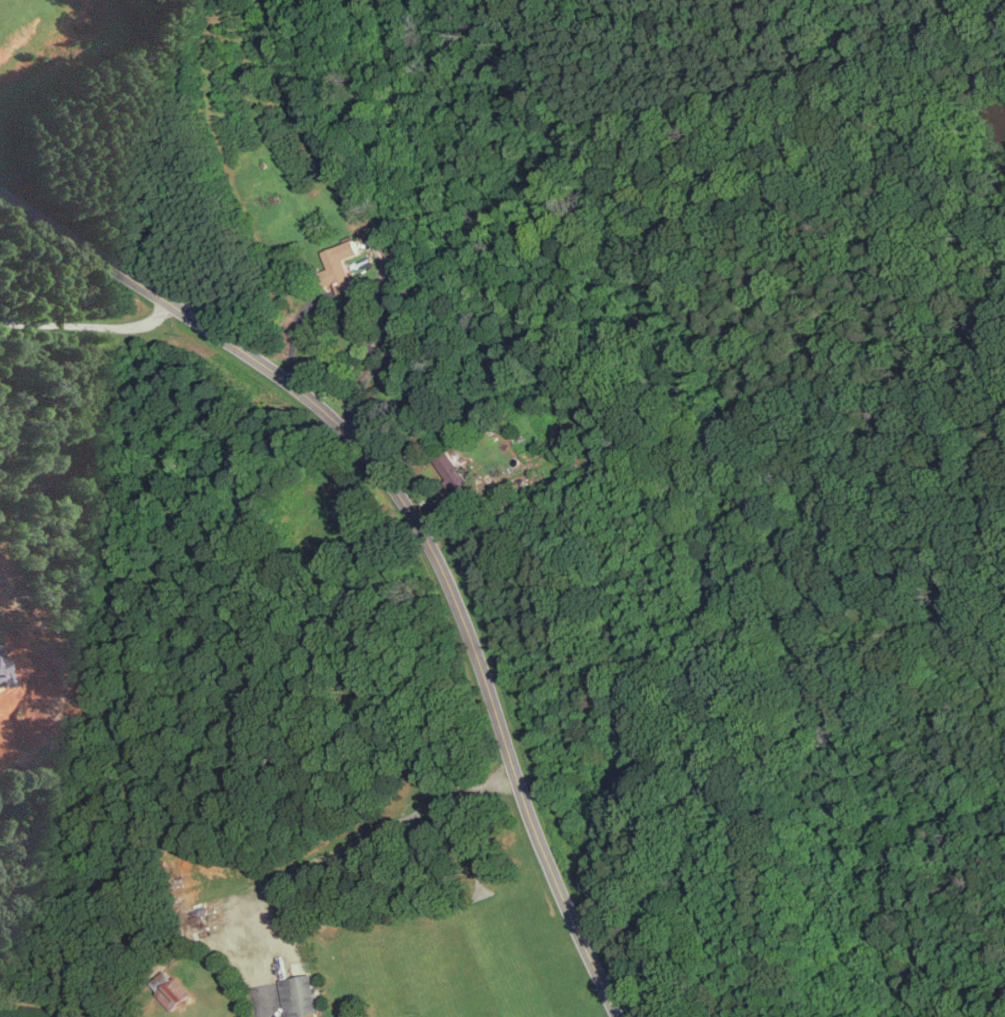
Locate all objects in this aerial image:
building: (341, 263)
road: (353, 304)
road: (89, 326)
road: (415, 522)
building: (5, 671)
road: (396, 821)
road: (252, 941)
building: (174, 992)
building: (300, 995)

